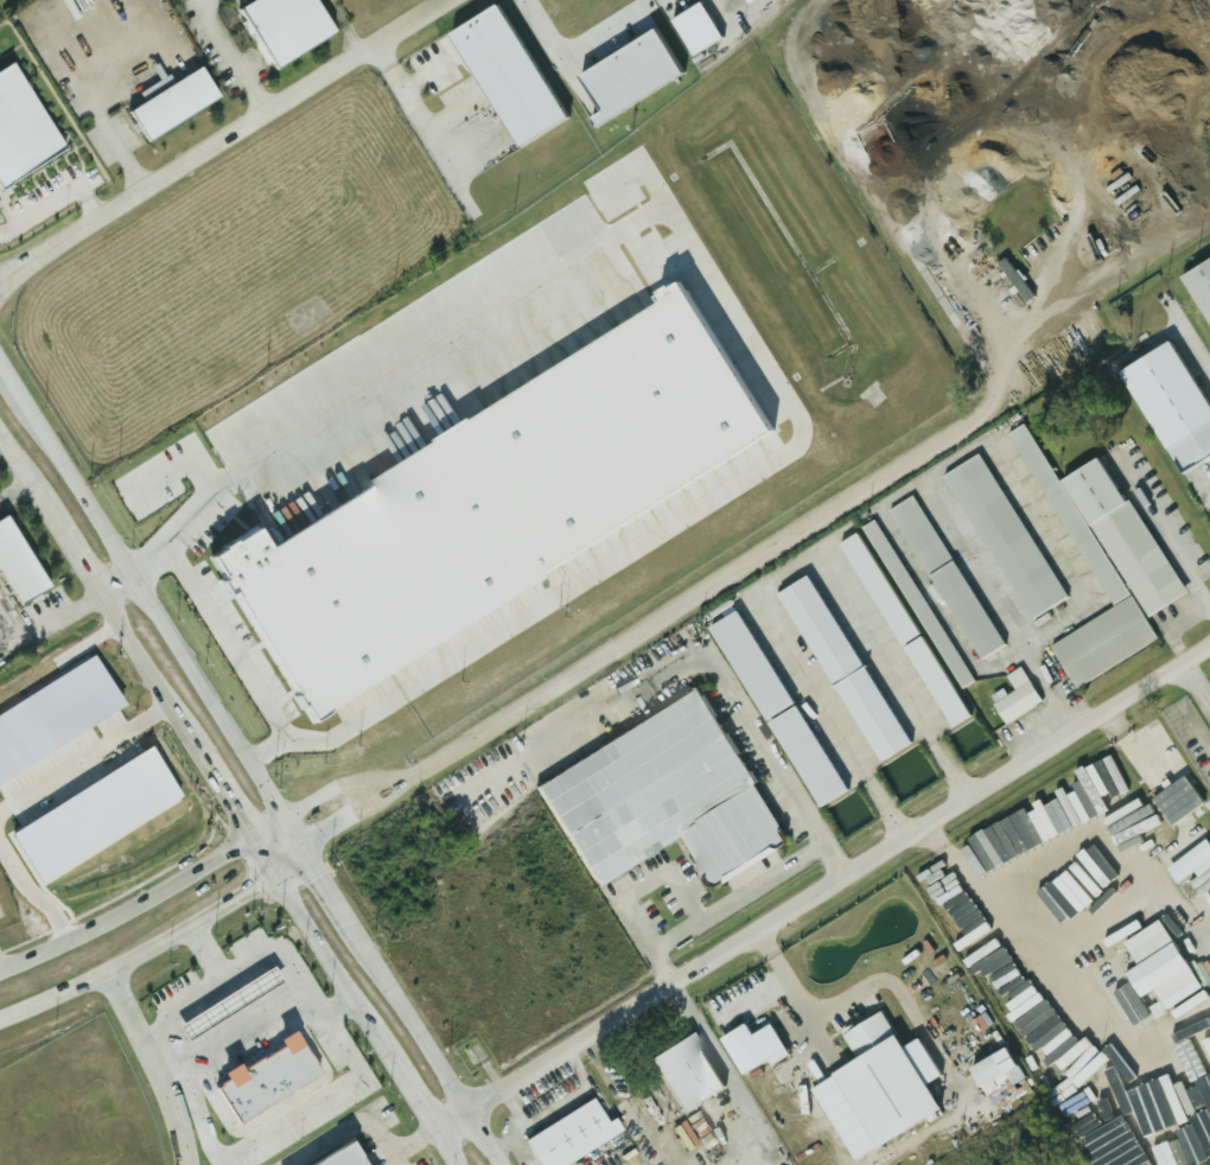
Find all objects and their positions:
building: (751, 0)
building: (285, 25)
road: (344, 26)
building: (701, 27)
road: (617, 31)
road: (568, 49)
road: (230, 57)
road: (423, 72)
building: (518, 75)
building: (172, 103)
road: (272, 108)
road: (98, 110)
road: (451, 113)
building: (21, 128)
road: (421, 129)
road: (44, 206)
road: (59, 241)
building: (1202, 278)
building: (1011, 279)
road: (1193, 340)
building: (1166, 406)
road: (957, 454)
road: (263, 483)
road: (13, 486)
road: (30, 486)
road: (694, 514)
road: (1164, 530)
building: (1002, 536)
building: (1101, 562)
building: (19, 564)
road: (79, 565)
road: (783, 569)
building: (942, 577)
road: (709, 585)
road: (142, 593)
building: (915, 603)
road: (1172, 623)
road: (44, 625)
building: (898, 629)
road: (142, 666)
building: (836, 667)
road: (722, 674)
road: (1192, 688)
building: (1013, 696)
building: (771, 707)
road: (268, 750)
road: (82, 756)
road: (394, 781)
road: (1164, 789)
road: (327, 792)
building: (665, 797)
road: (231, 804)
traffic signals: (305, 807)
traffic signals: (234, 808)
road: (339, 821)
road: (1122, 829)
road: (956, 858)
building: (1187, 861)
road: (292, 864)
road: (319, 874)
traffic signals: (320, 876)
building: (1199, 881)
road: (821, 885)
traffic signals: (257, 886)
road: (28, 898)
building: (1205, 899)
road: (146, 900)
road: (233, 900)
road: (631, 916)
road: (675, 936)
road: (287, 954)
building: (1153, 966)
road: (335, 969)
road: (96, 975)
road: (860, 991)
building: (730, 1011)
building: (1032, 1023)
road: (1096, 1023)
road: (149, 1032)
road: (428, 1049)
building: (746, 1050)
road: (149, 1067)
building: (991, 1070)
building: (689, 1074)
building: (260, 1076)
building: (871, 1087)
road: (414, 1097)
road: (554, 1108)
building: (1087, 1110)
road: (371, 1116)
road: (509, 1126)
building: (1189, 1131)
road: (648, 1133)
building: (574, 1137)
road: (445, 1147)
building: (1119, 1147)
road: (216, 1152)
road: (695, 1154)
building: (331, 1157)
road: (401, 1159)
road: (588, 1160)

